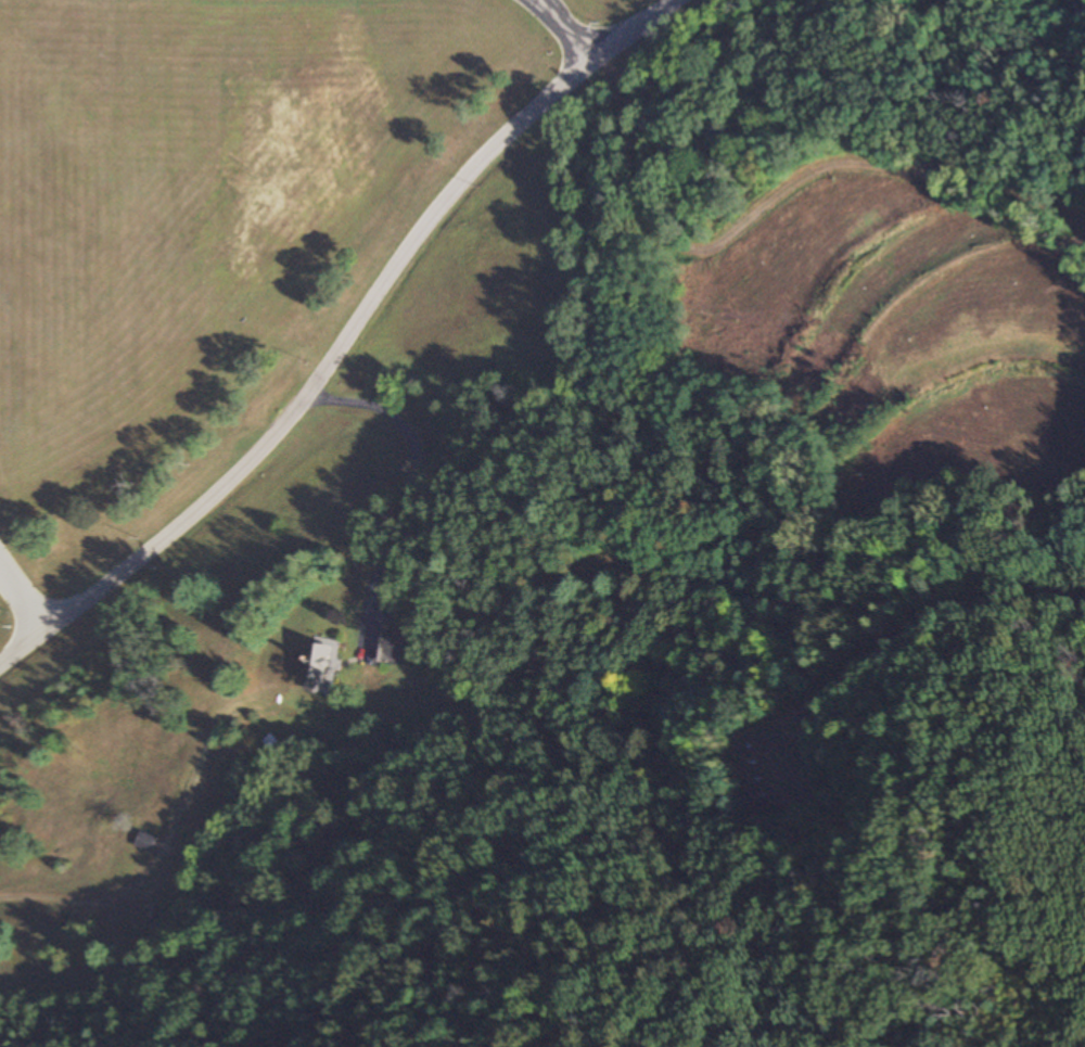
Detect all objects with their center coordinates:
road: (566, 28)
road: (341, 337)
road: (413, 488)
road: (23, 599)
building: (390, 649)
building: (317, 667)
building: (148, 841)

